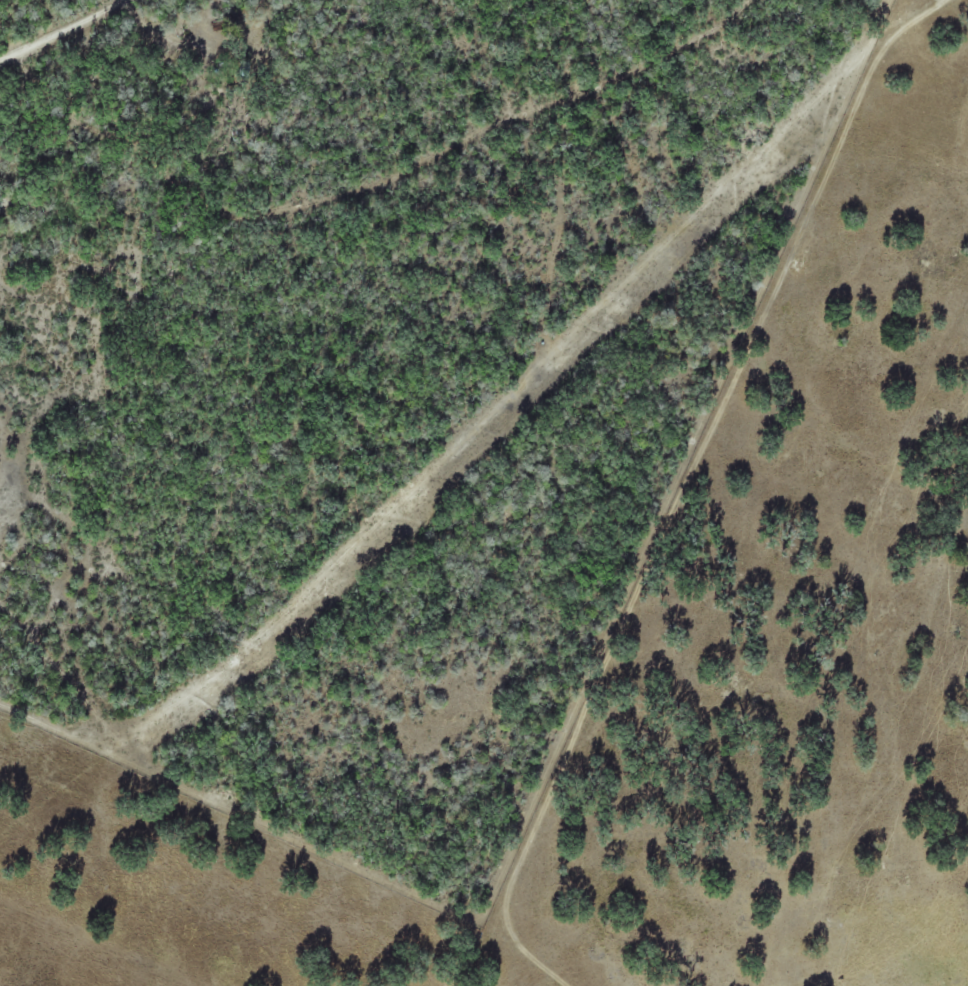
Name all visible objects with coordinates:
road: (32, 23)

